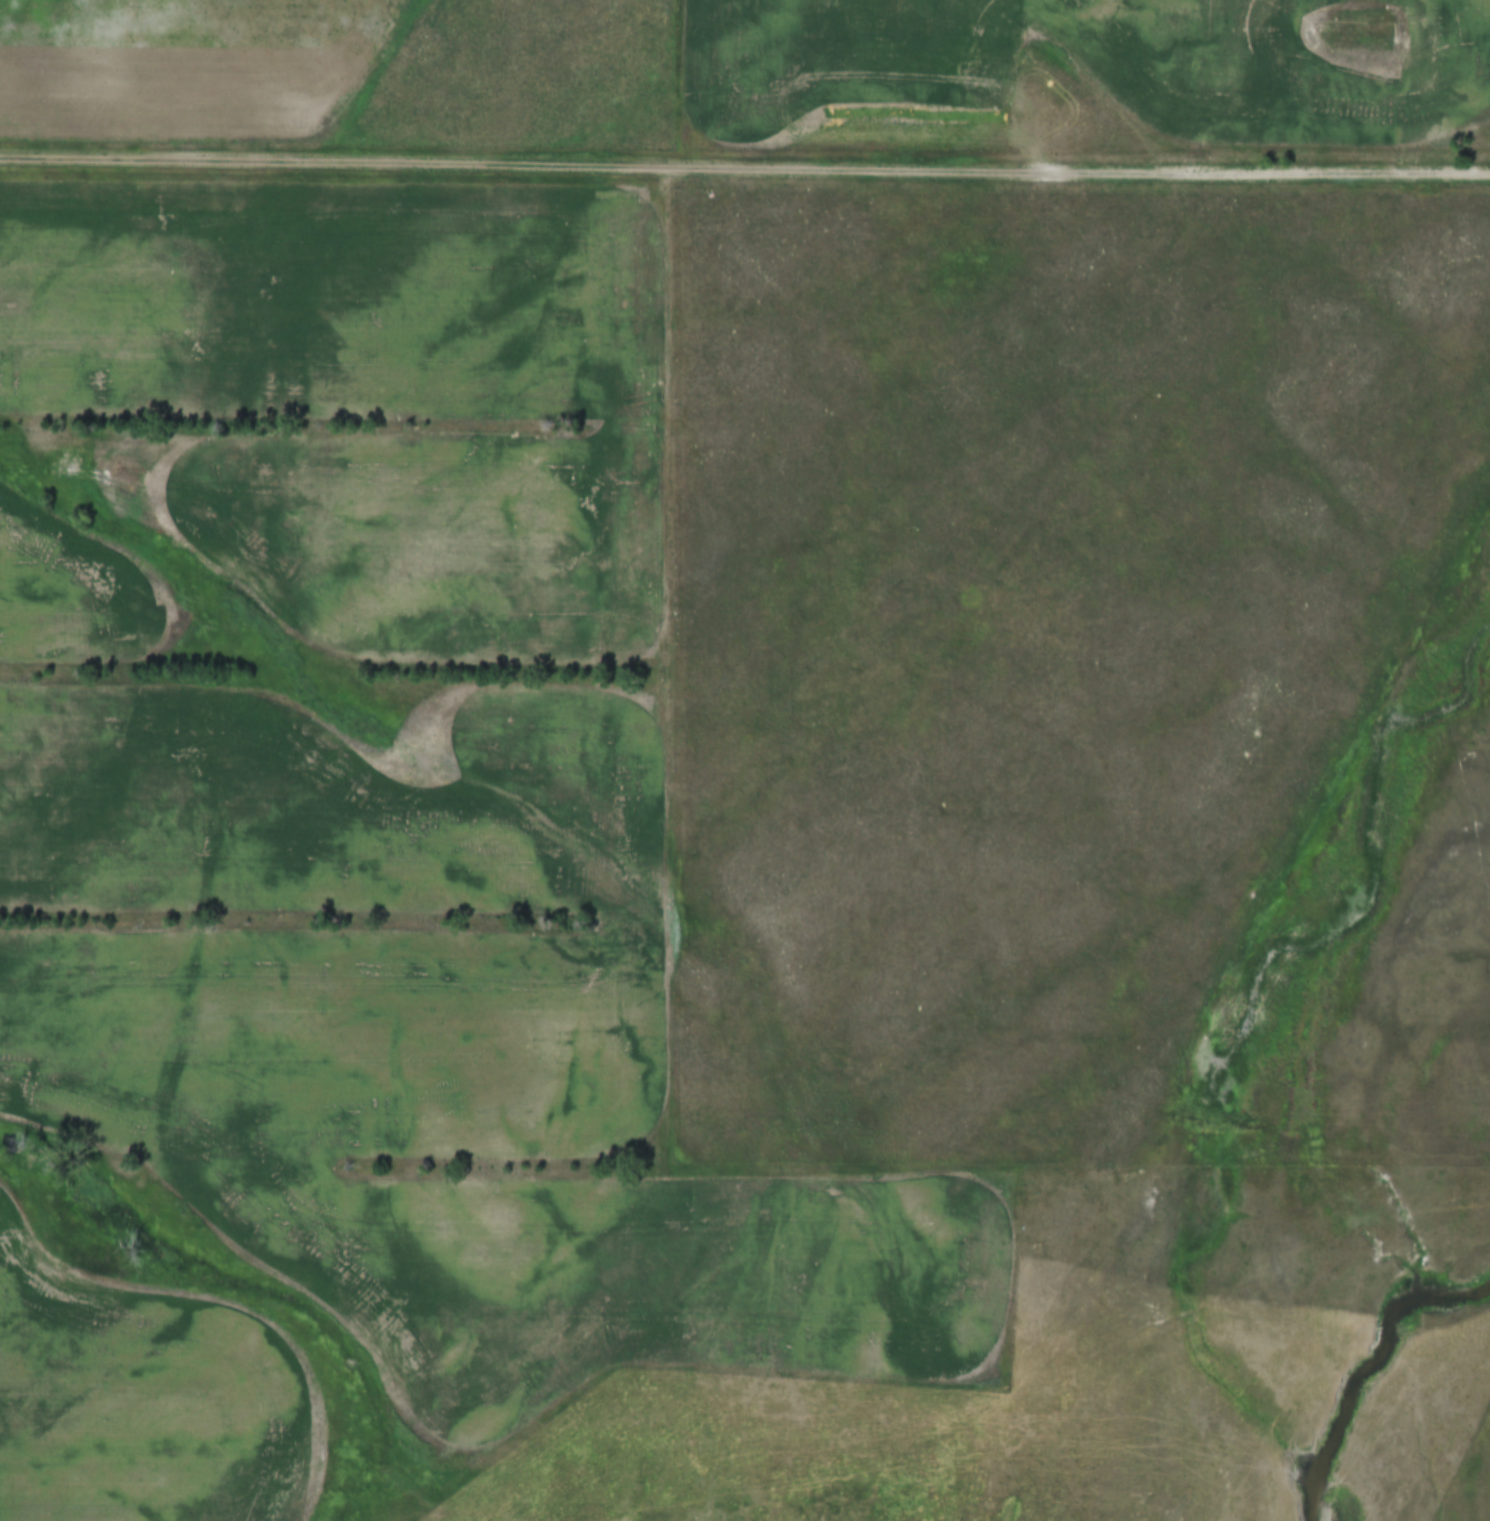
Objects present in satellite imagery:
road: (687, 84)
road: (744, 168)

